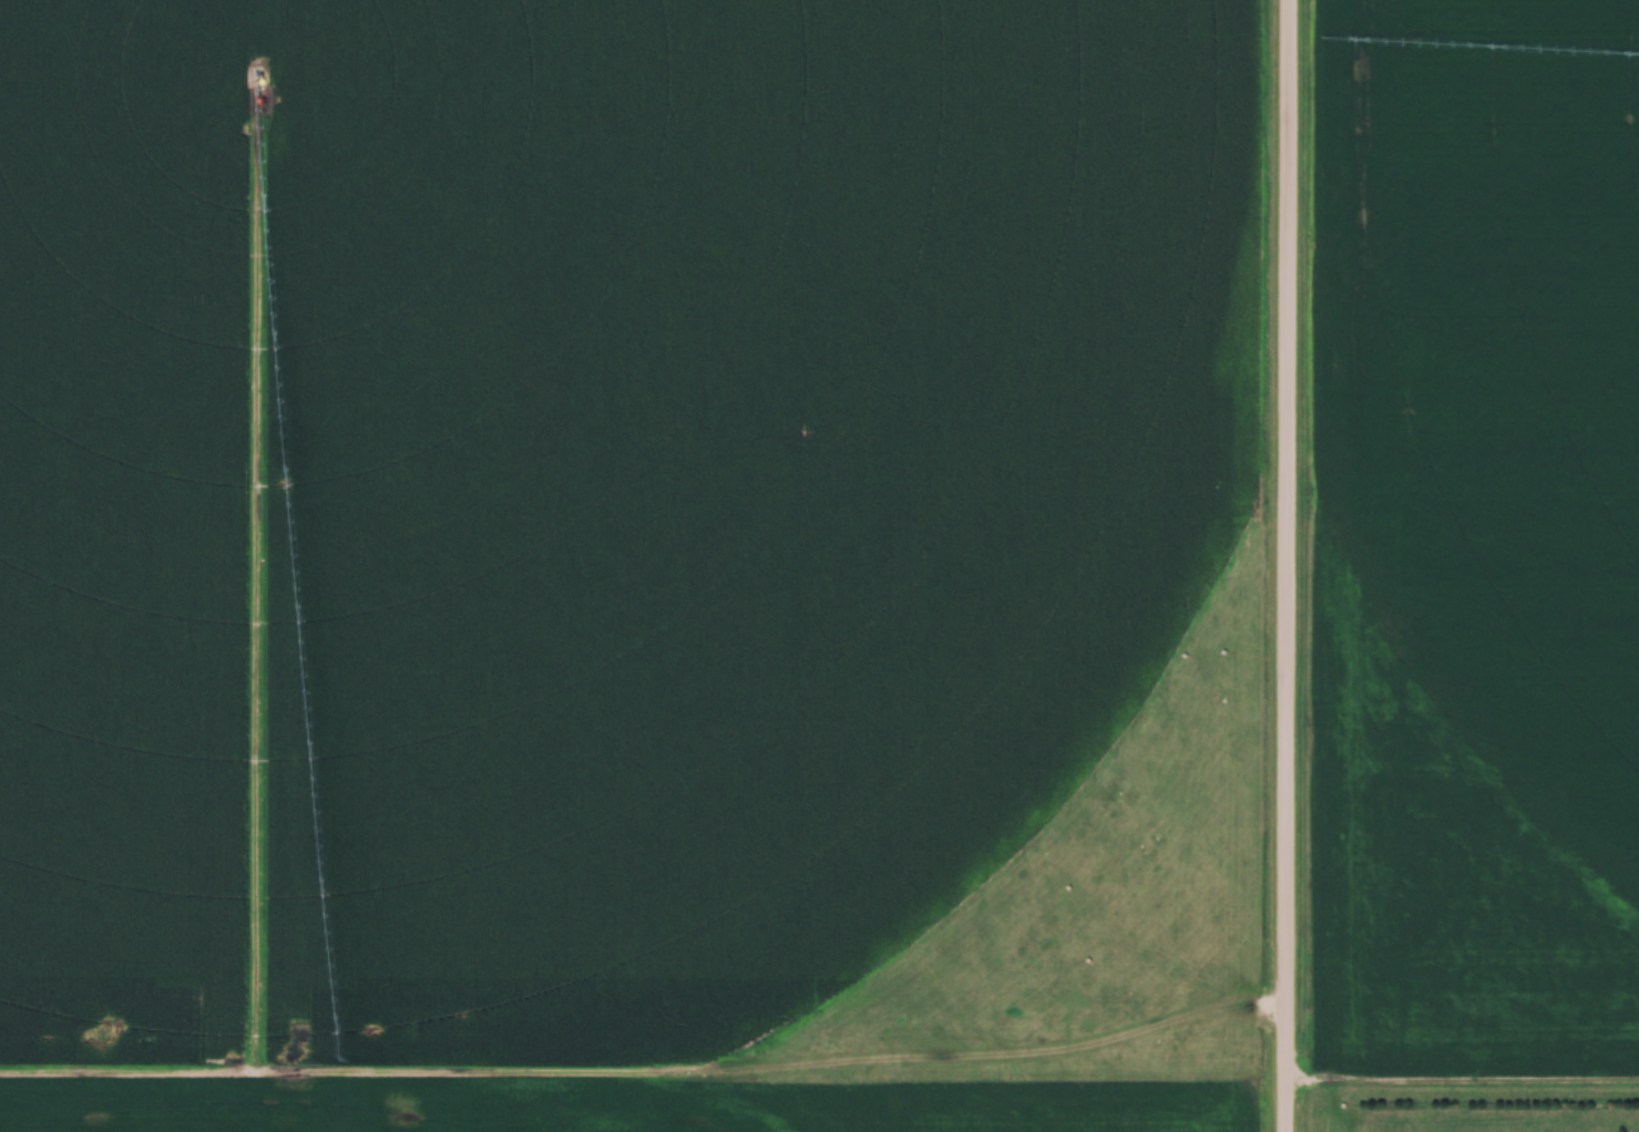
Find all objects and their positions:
road: (1287, 566)

